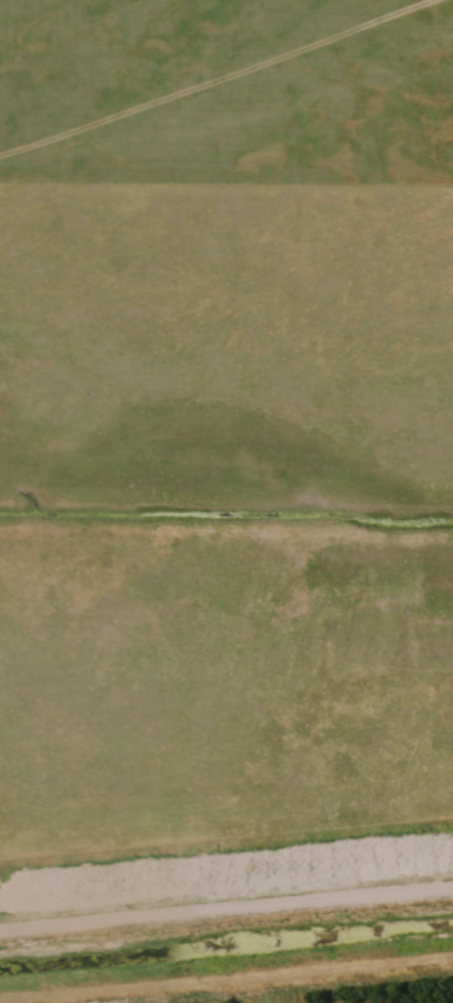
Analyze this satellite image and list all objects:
road: (226, 909)

